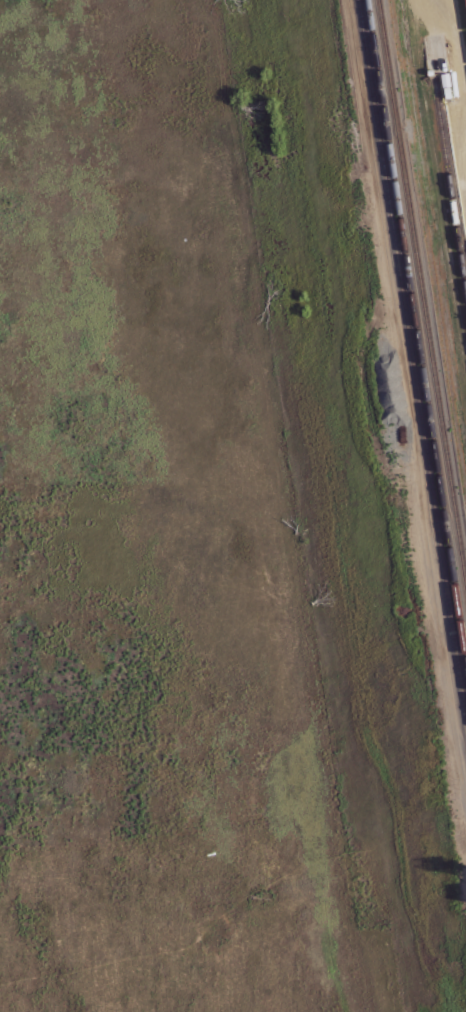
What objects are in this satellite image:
railway: (465, 0)
railway: (448, 195)
railway: (421, 300)
railway: (416, 338)
railway: (411, 364)

